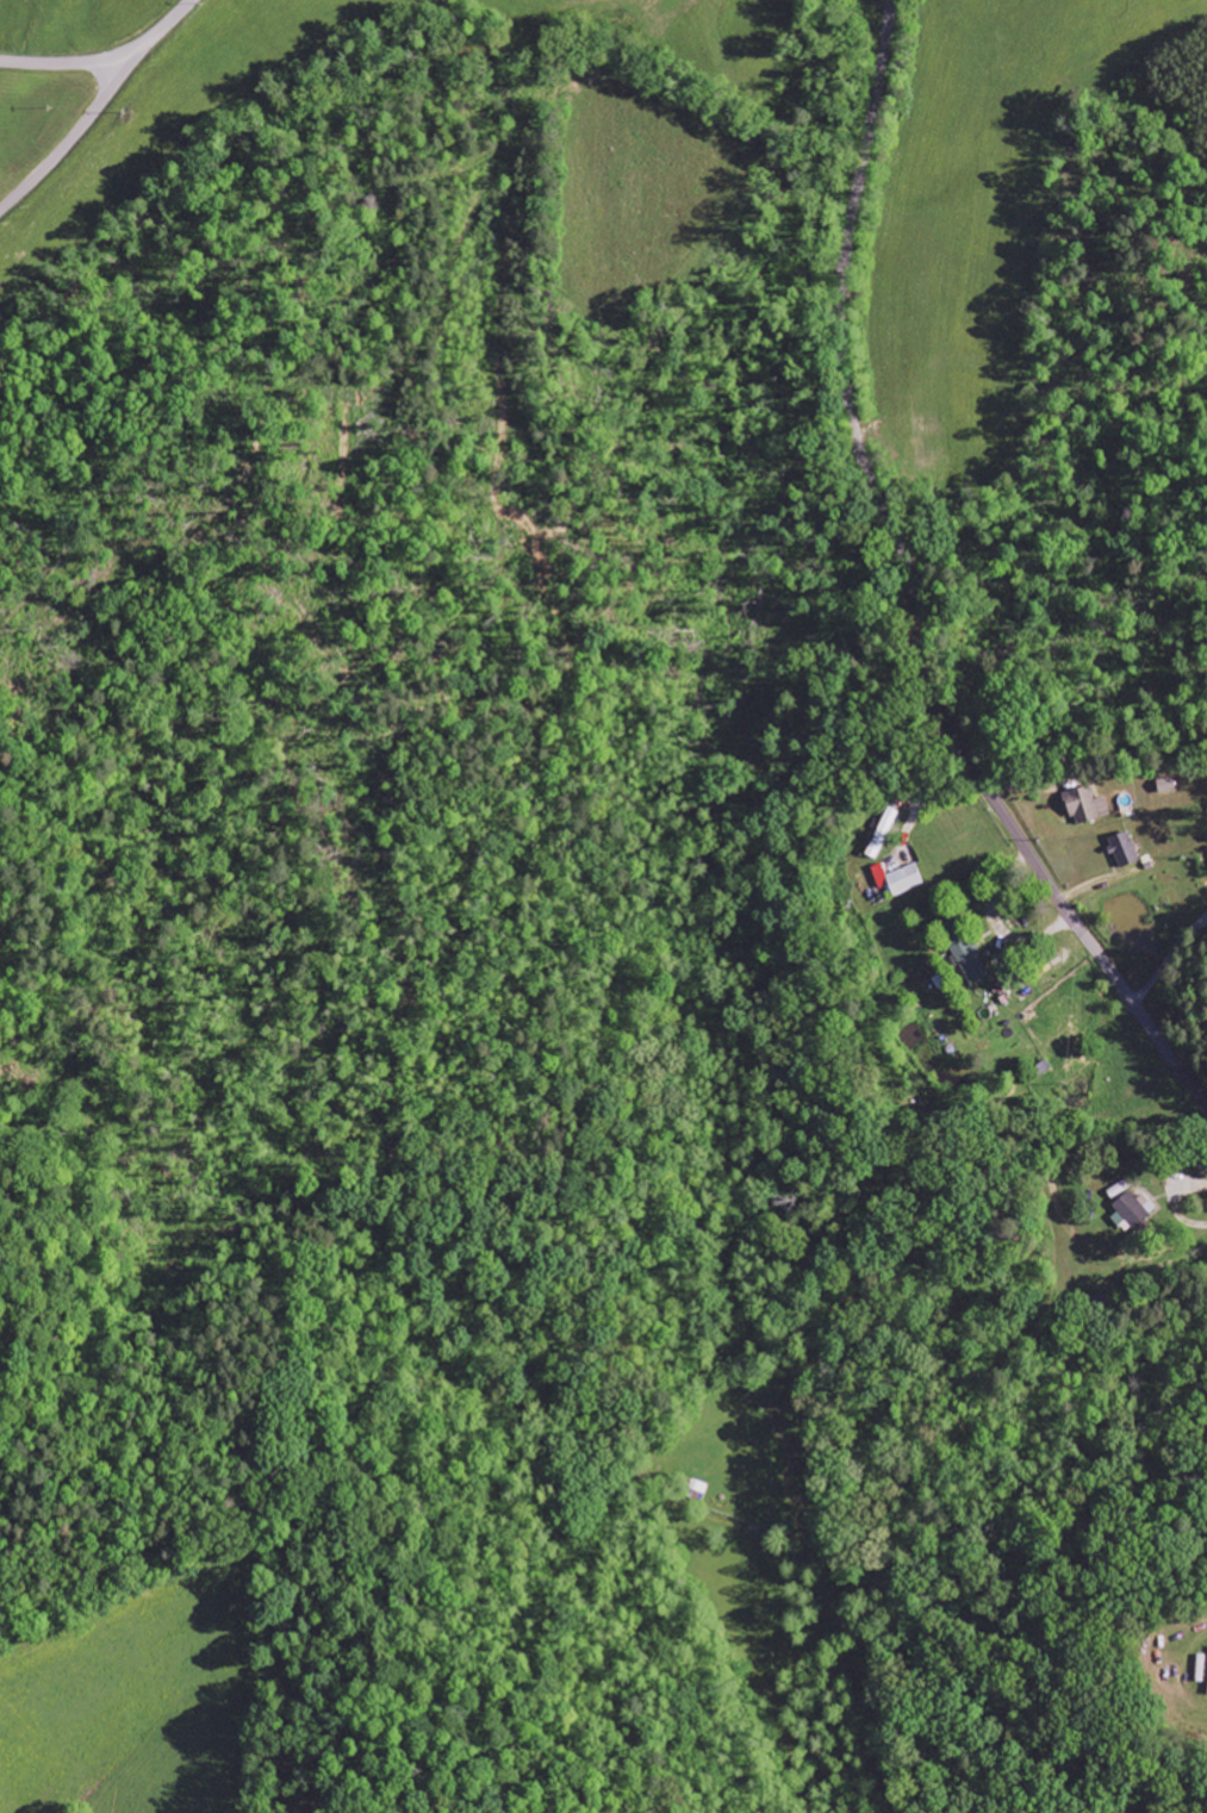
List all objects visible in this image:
road: (105, 56)
road: (77, 131)
road: (910, 585)
building: (1085, 805)
building: (882, 833)
building: (1124, 849)
building: (898, 878)
building: (970, 960)
building: (1134, 1209)

